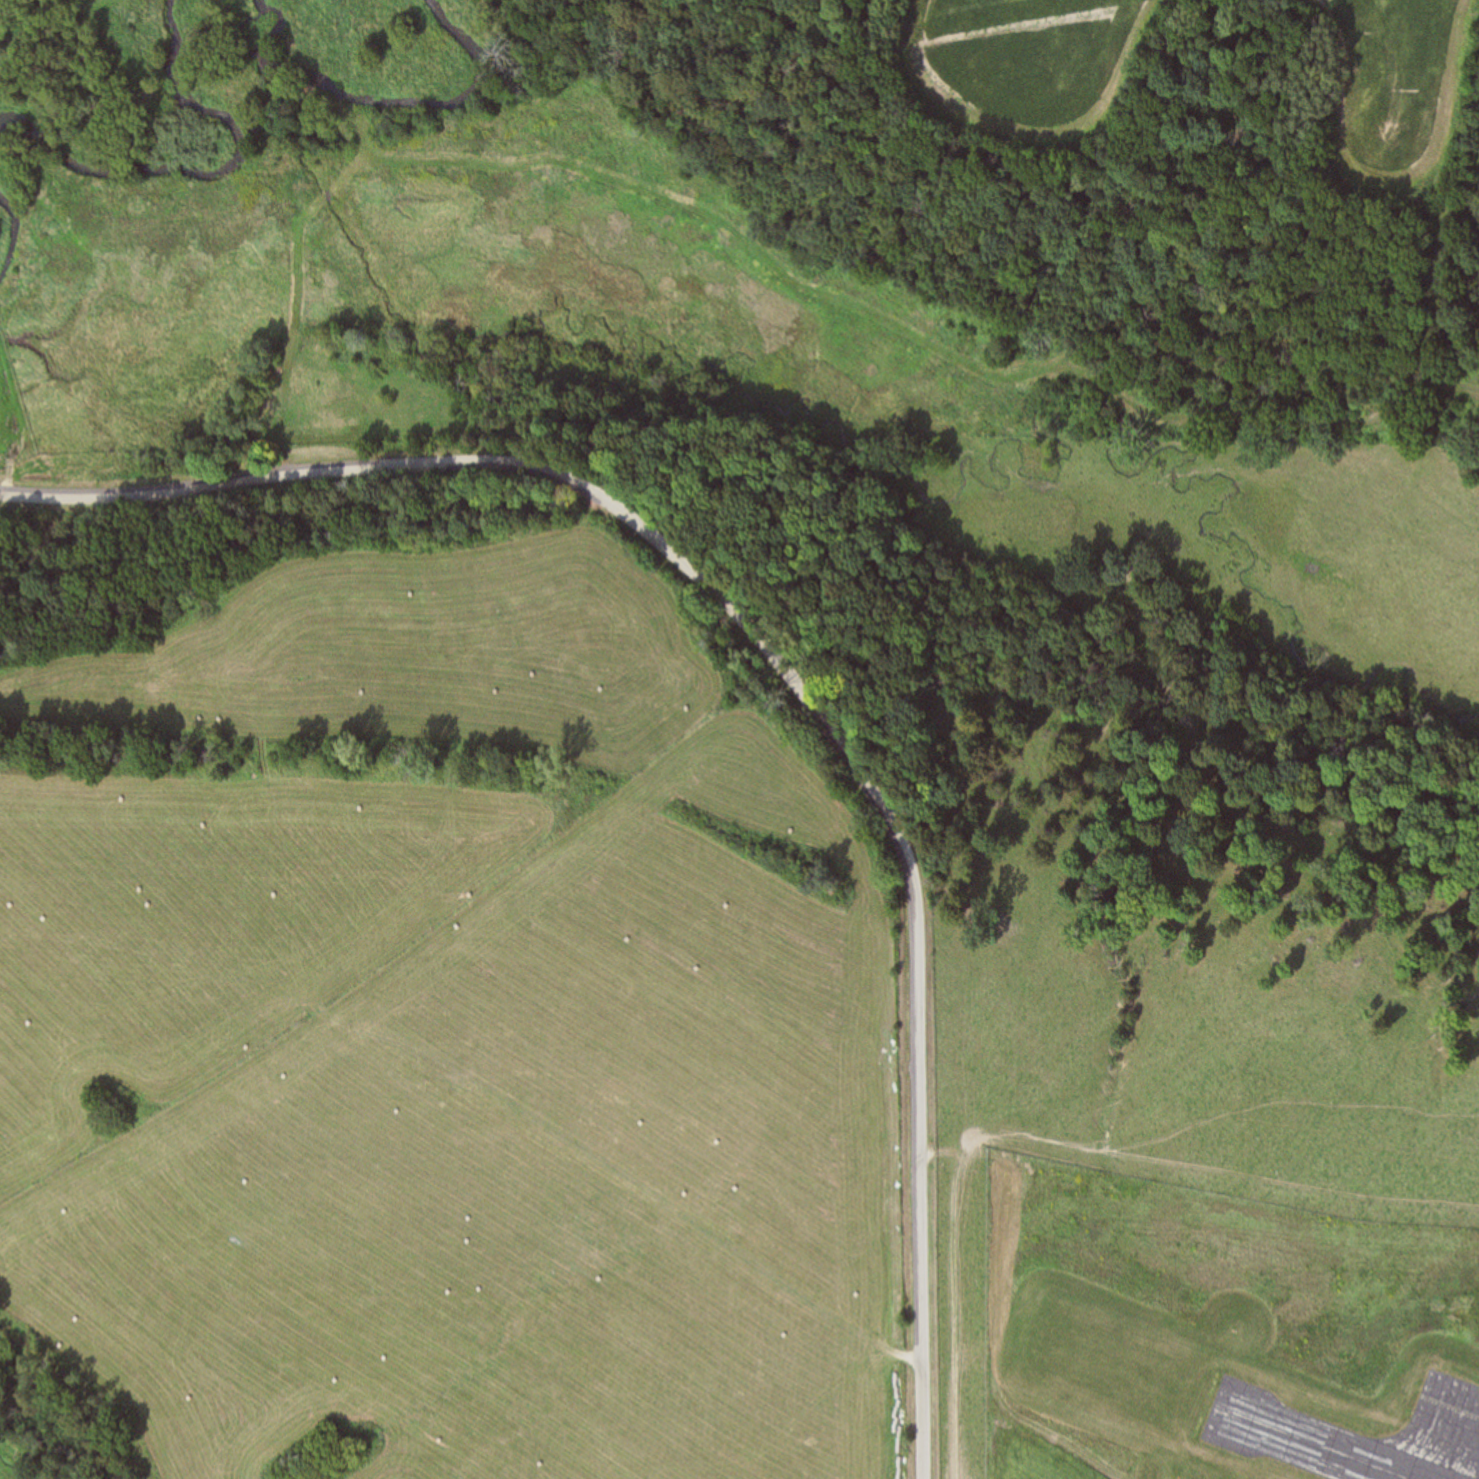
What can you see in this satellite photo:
road: (778, 664)
airport: (1225, 1346)
airport runway: (1305, 1444)

